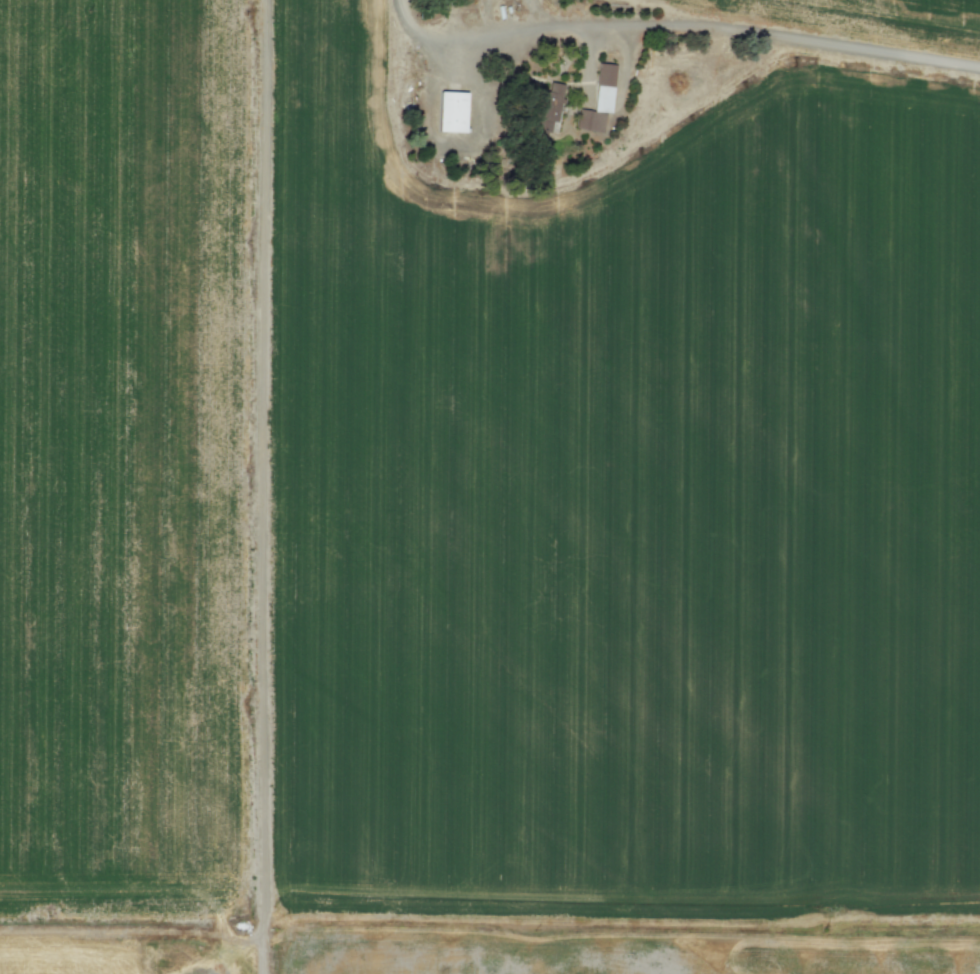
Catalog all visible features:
road: (679, 23)
building: (605, 81)
building: (451, 111)
road: (261, 459)

